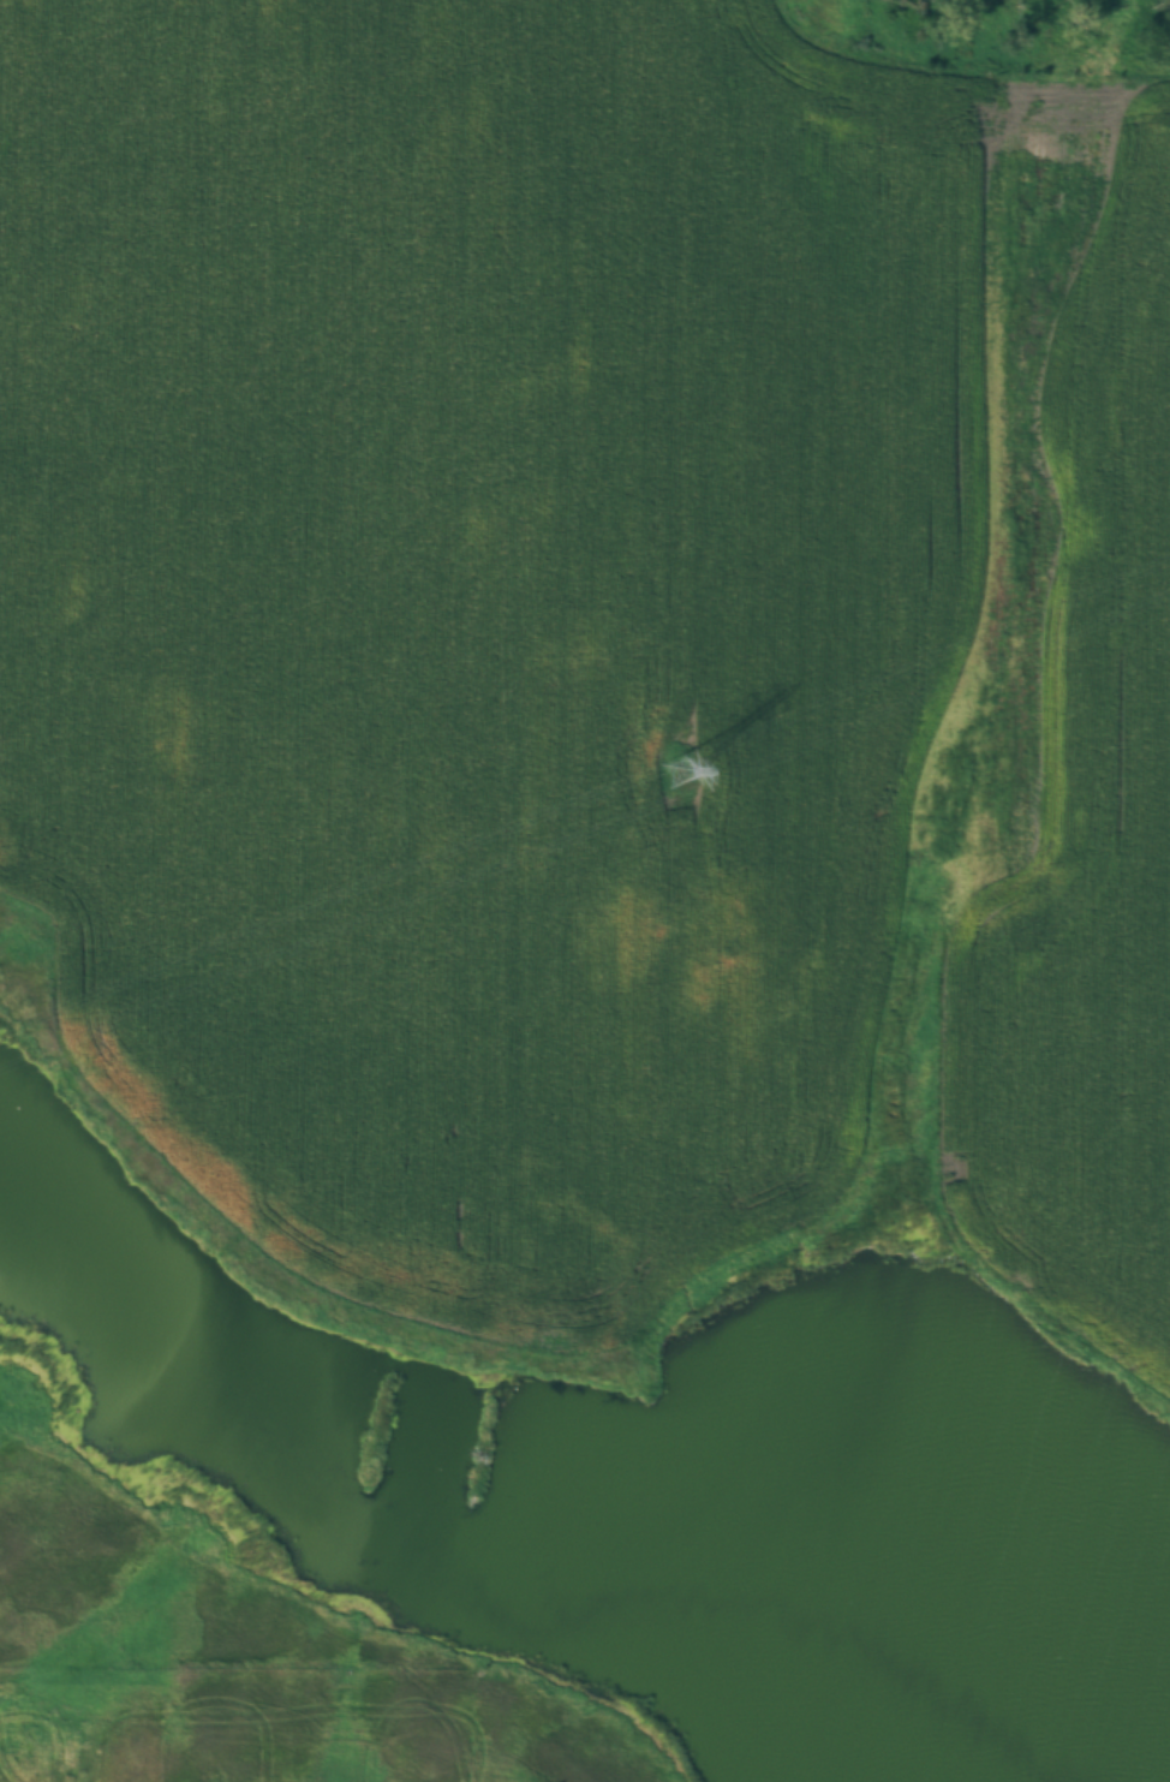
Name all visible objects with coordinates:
power tower: (677, 770)

